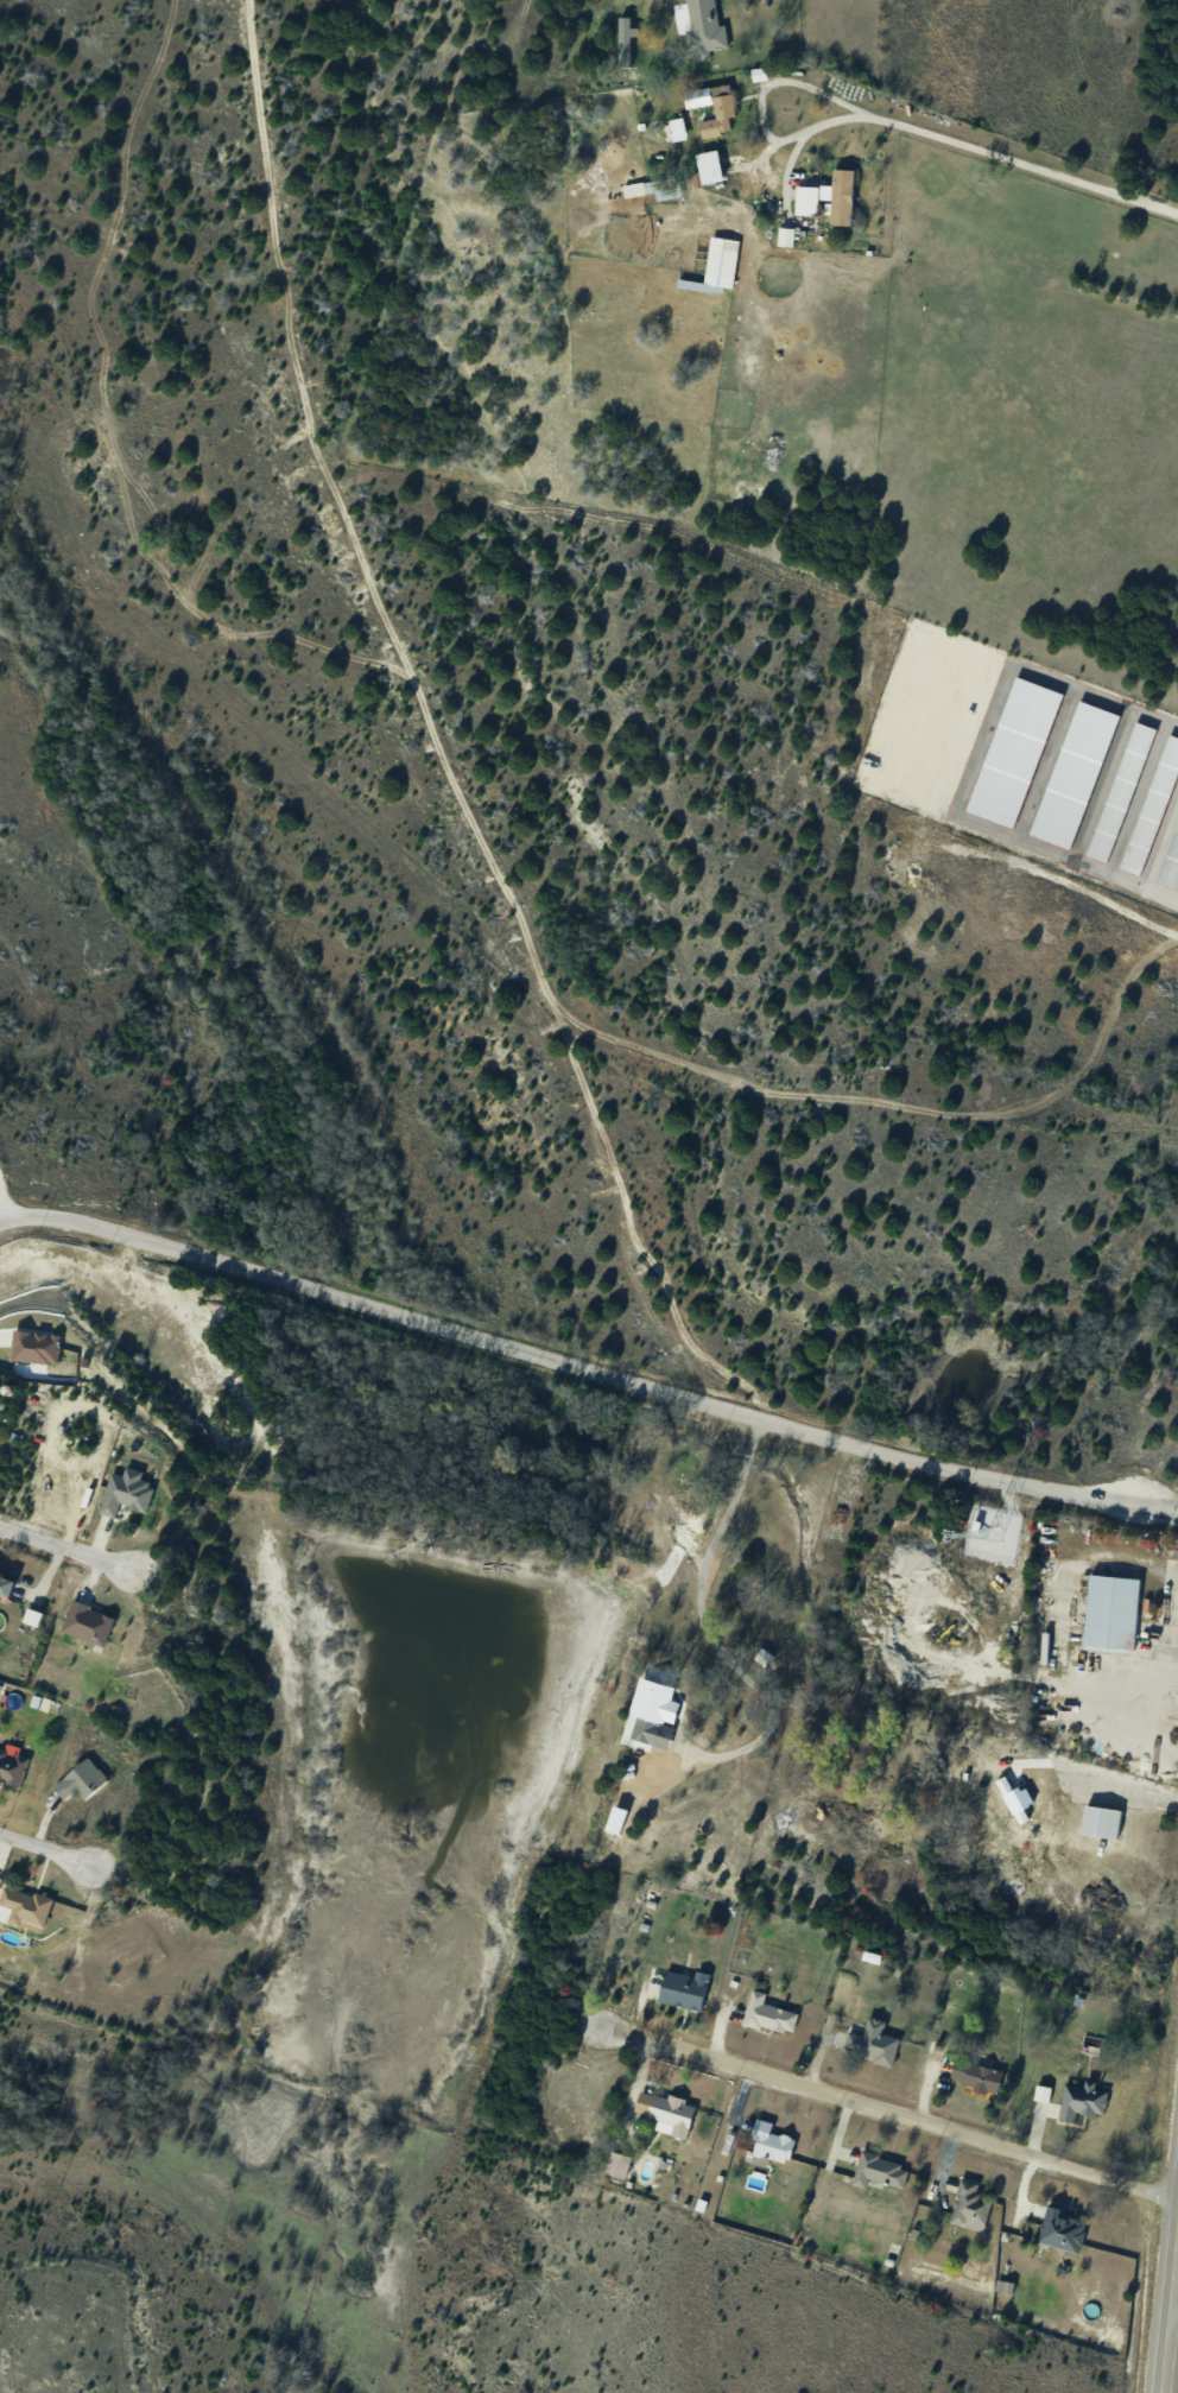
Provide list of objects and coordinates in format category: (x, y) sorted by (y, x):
building: (708, 29)
building: (714, 109)
building: (682, 128)
building: (715, 166)
building: (650, 186)
building: (832, 197)
building: (724, 261)
road: (587, 1372)
building: (131, 1492)
road: (70, 1552)
building: (9, 1581)
building: (1113, 1610)
building: (91, 1622)
building: (658, 1713)
building: (13, 1766)
building: (85, 1779)
building: (1106, 1821)
road: (47, 1853)
building: (30, 1905)
building: (686, 1989)
building: (769, 2013)
building: (875, 2043)
building: (980, 2076)
building: (1083, 2100)
road: (904, 2108)
building: (673, 2114)
building: (772, 2141)
building: (620, 2163)
building: (882, 2170)
building: (971, 2205)
building: (1063, 2229)
road: (1174, 2304)
road: (1171, 2307)

